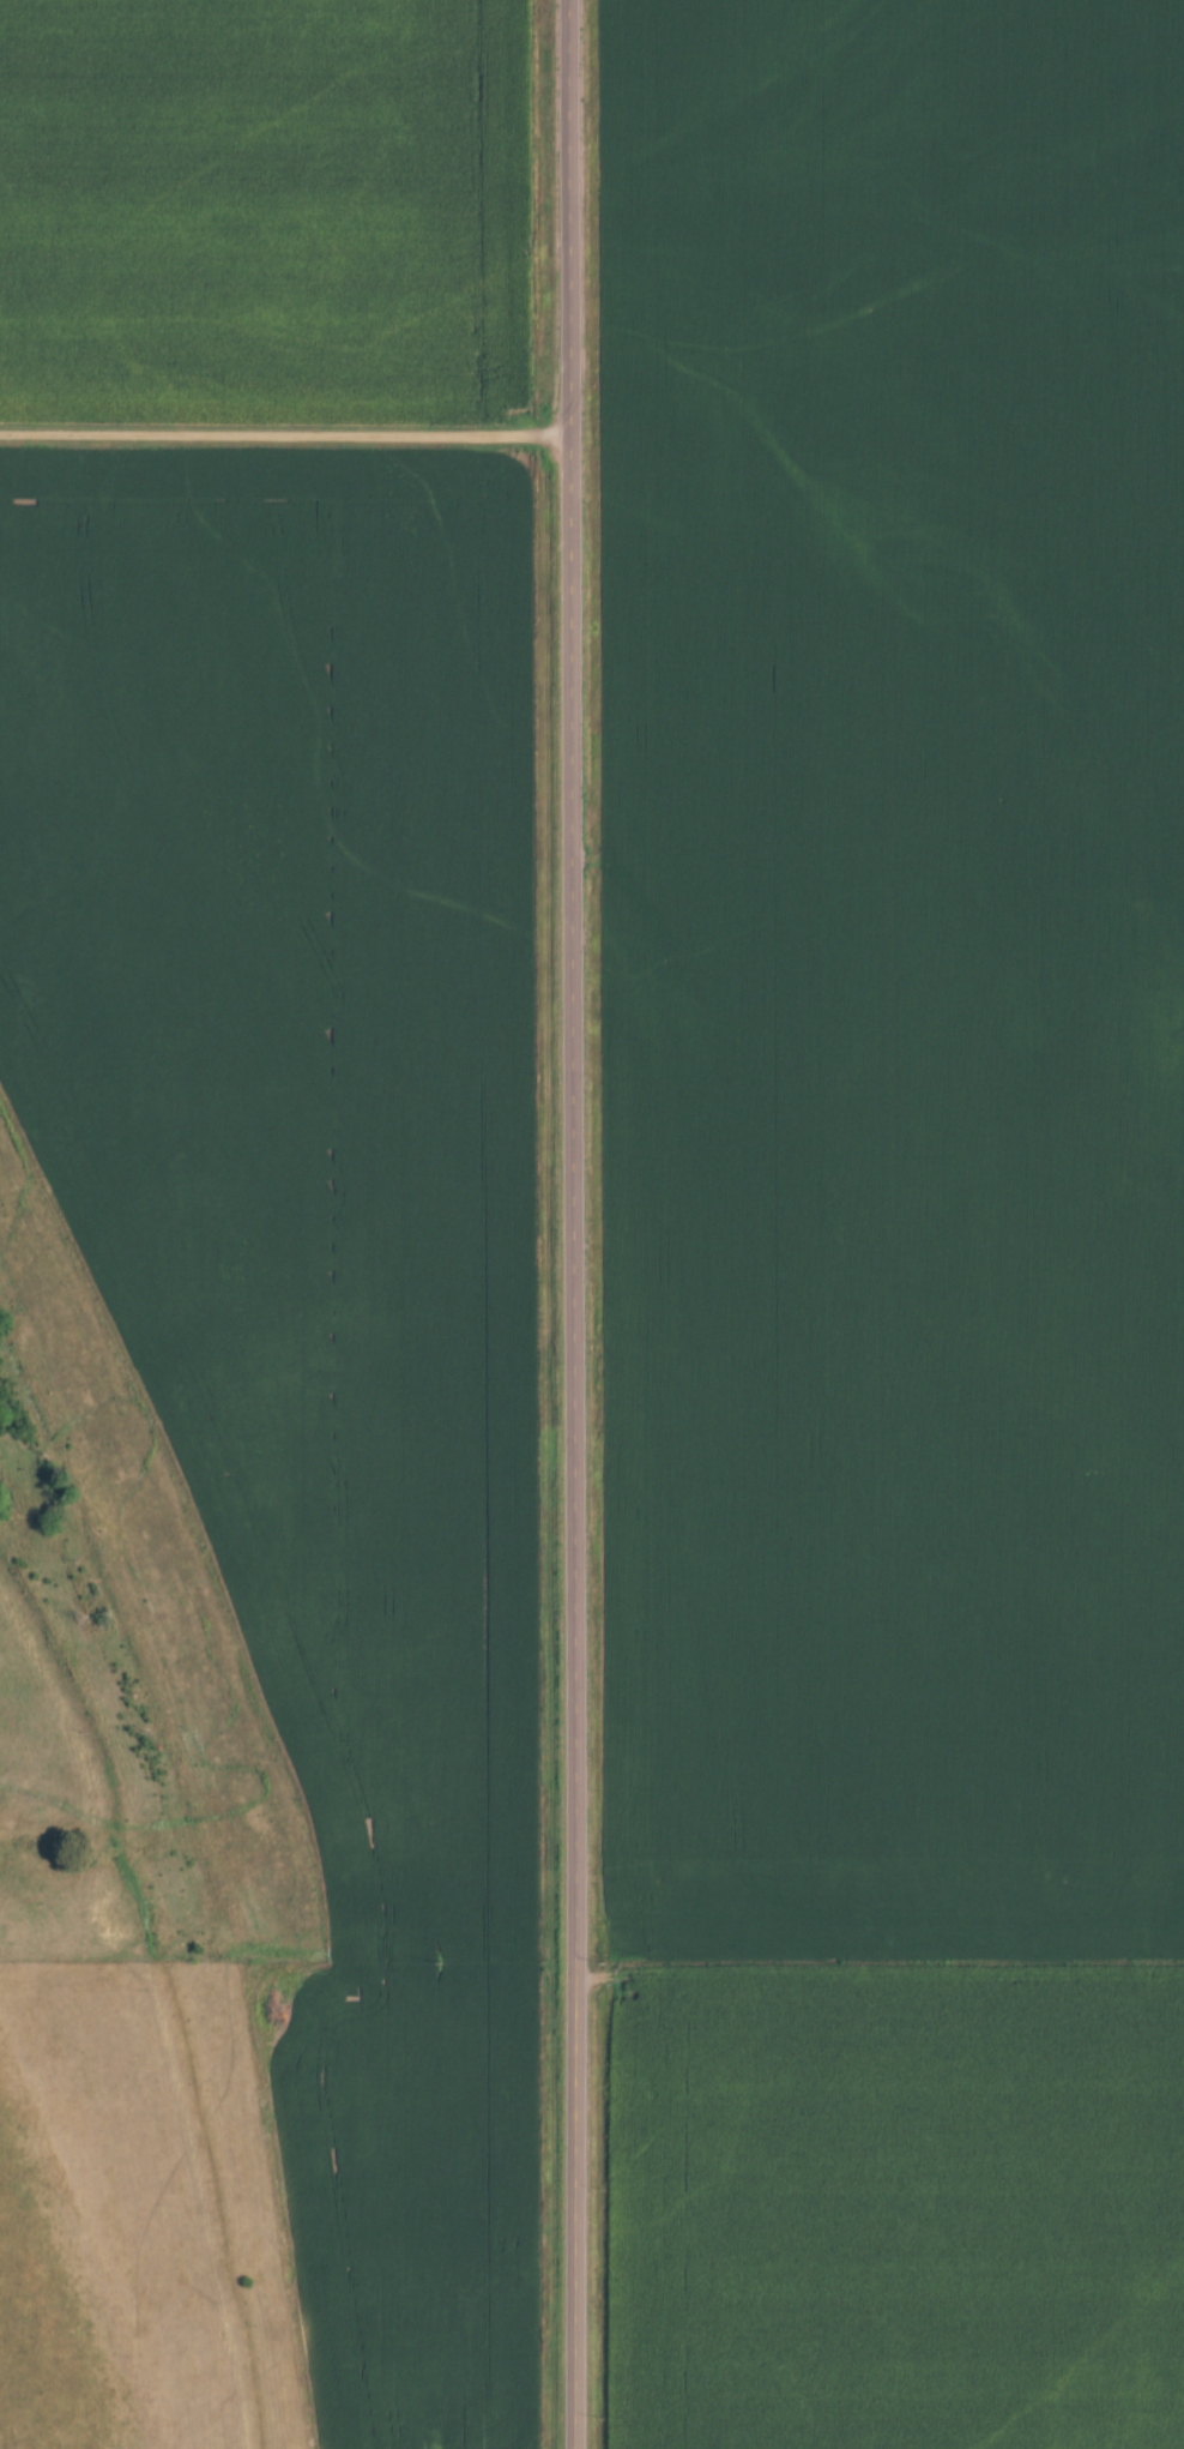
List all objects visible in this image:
crop: (264, 206)
road: (283, 432)
road: (572, 1224)

